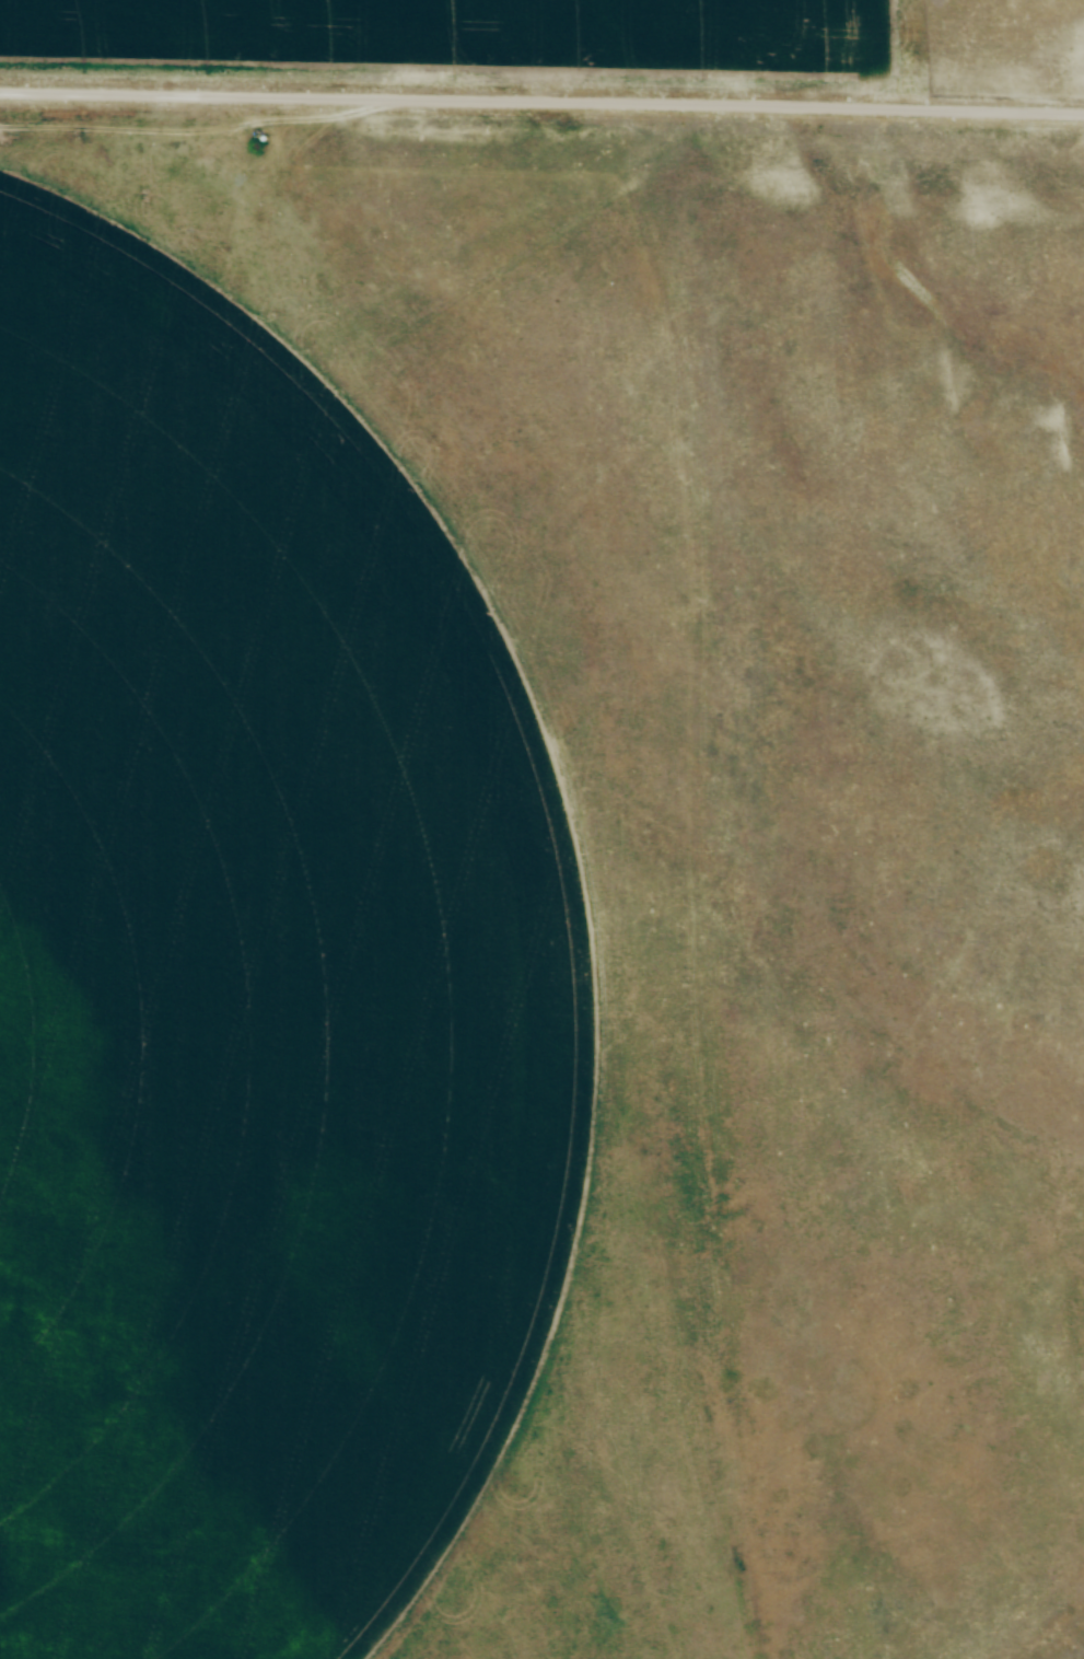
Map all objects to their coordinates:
crop: (426, 33)
crop: (248, 986)

